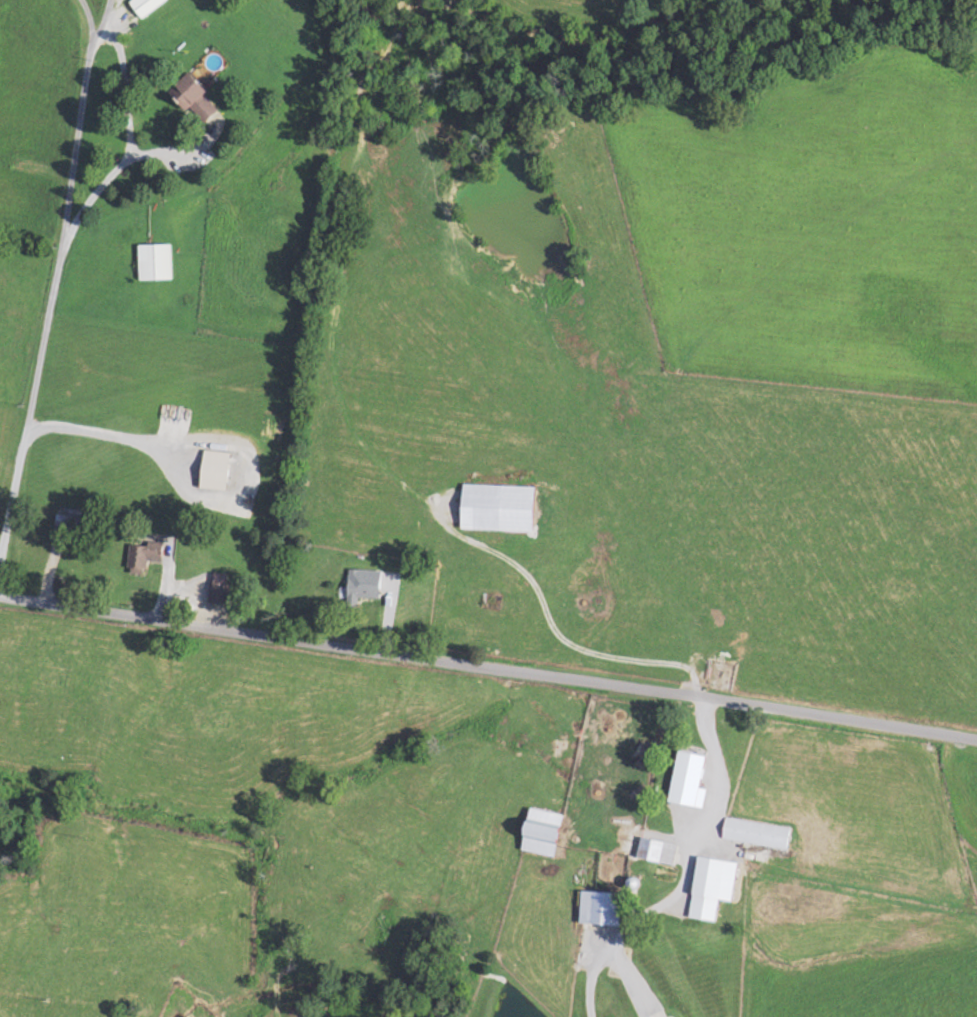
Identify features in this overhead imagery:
building: (146, 6)
road: (101, 19)
building: (197, 97)
building: (155, 262)
road: (50, 292)
building: (216, 469)
building: (501, 507)
building: (68, 520)
building: (144, 554)
building: (363, 586)
building: (221, 587)
road: (488, 667)
building: (685, 778)
building: (544, 832)
building: (758, 832)
building: (659, 850)
building: (715, 886)
building: (604, 907)

